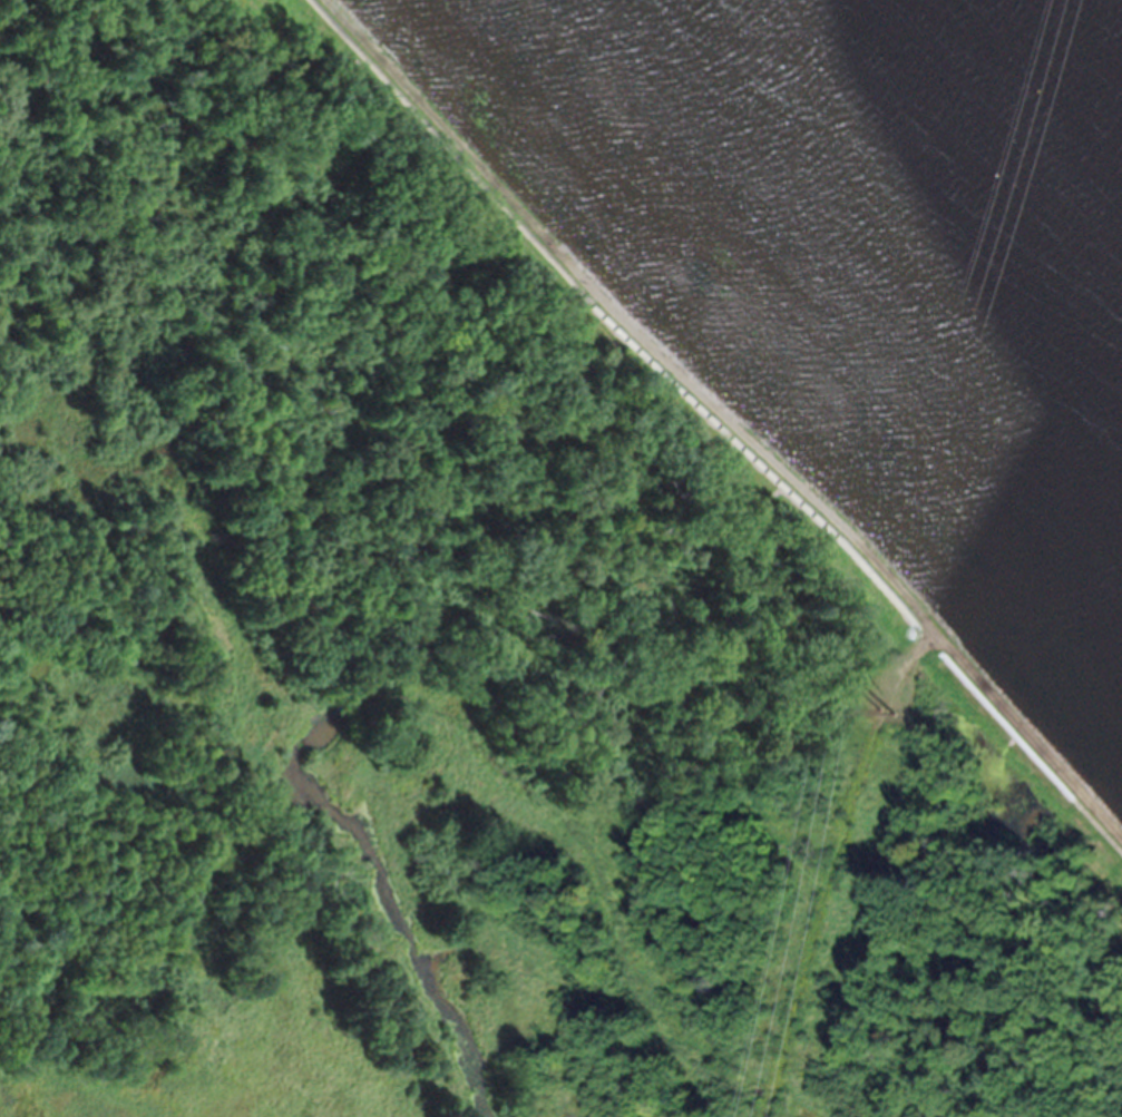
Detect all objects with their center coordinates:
power tower: (890, 697)

